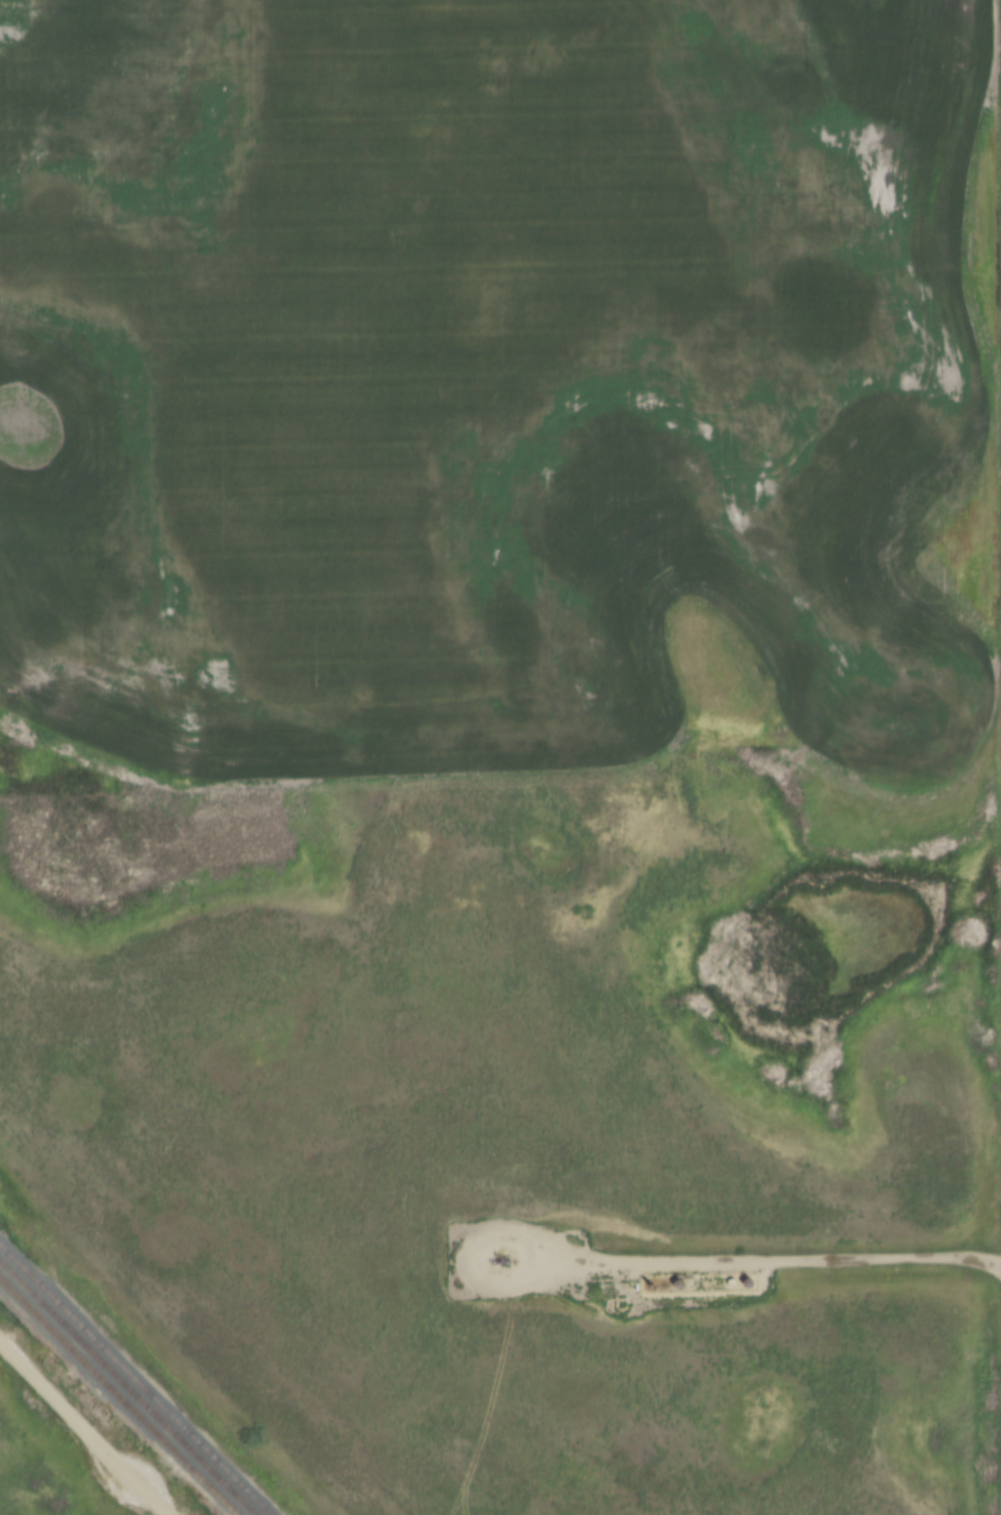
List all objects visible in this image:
road: (753, 1264)
railway: (136, 1379)
railway: (127, 1388)
railway: (119, 1396)
road: (83, 1431)

